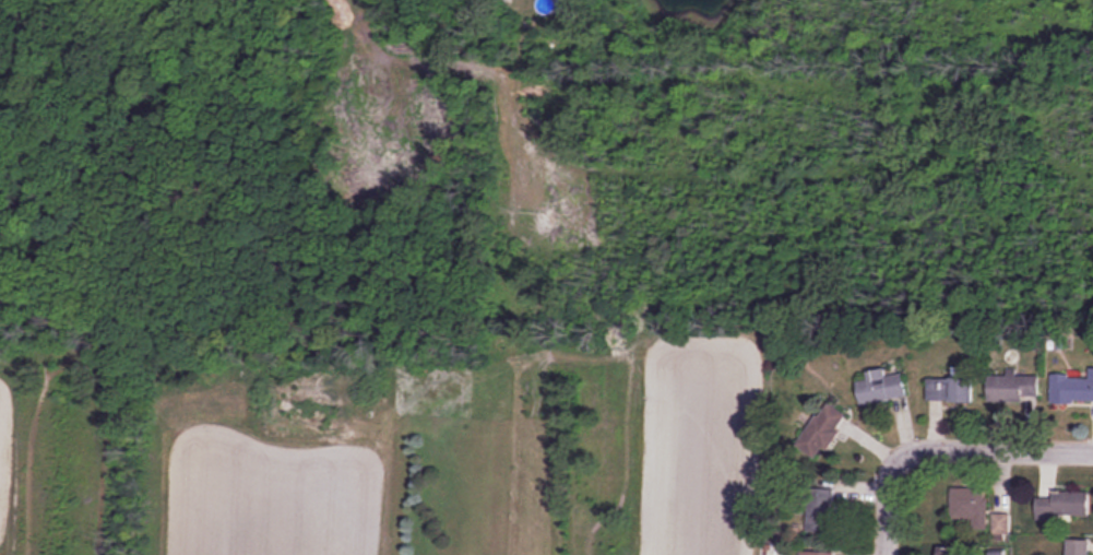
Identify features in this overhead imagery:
building: (497, 0)
building: (880, 387)
building: (1012, 388)
building: (951, 389)
building: (1071, 389)
building: (820, 430)
road: (994, 444)
road: (886, 501)
building: (1064, 506)
building: (970, 507)
building: (821, 509)
building: (1000, 523)
building: (1077, 546)
building: (949, 551)
building: (815, 553)

